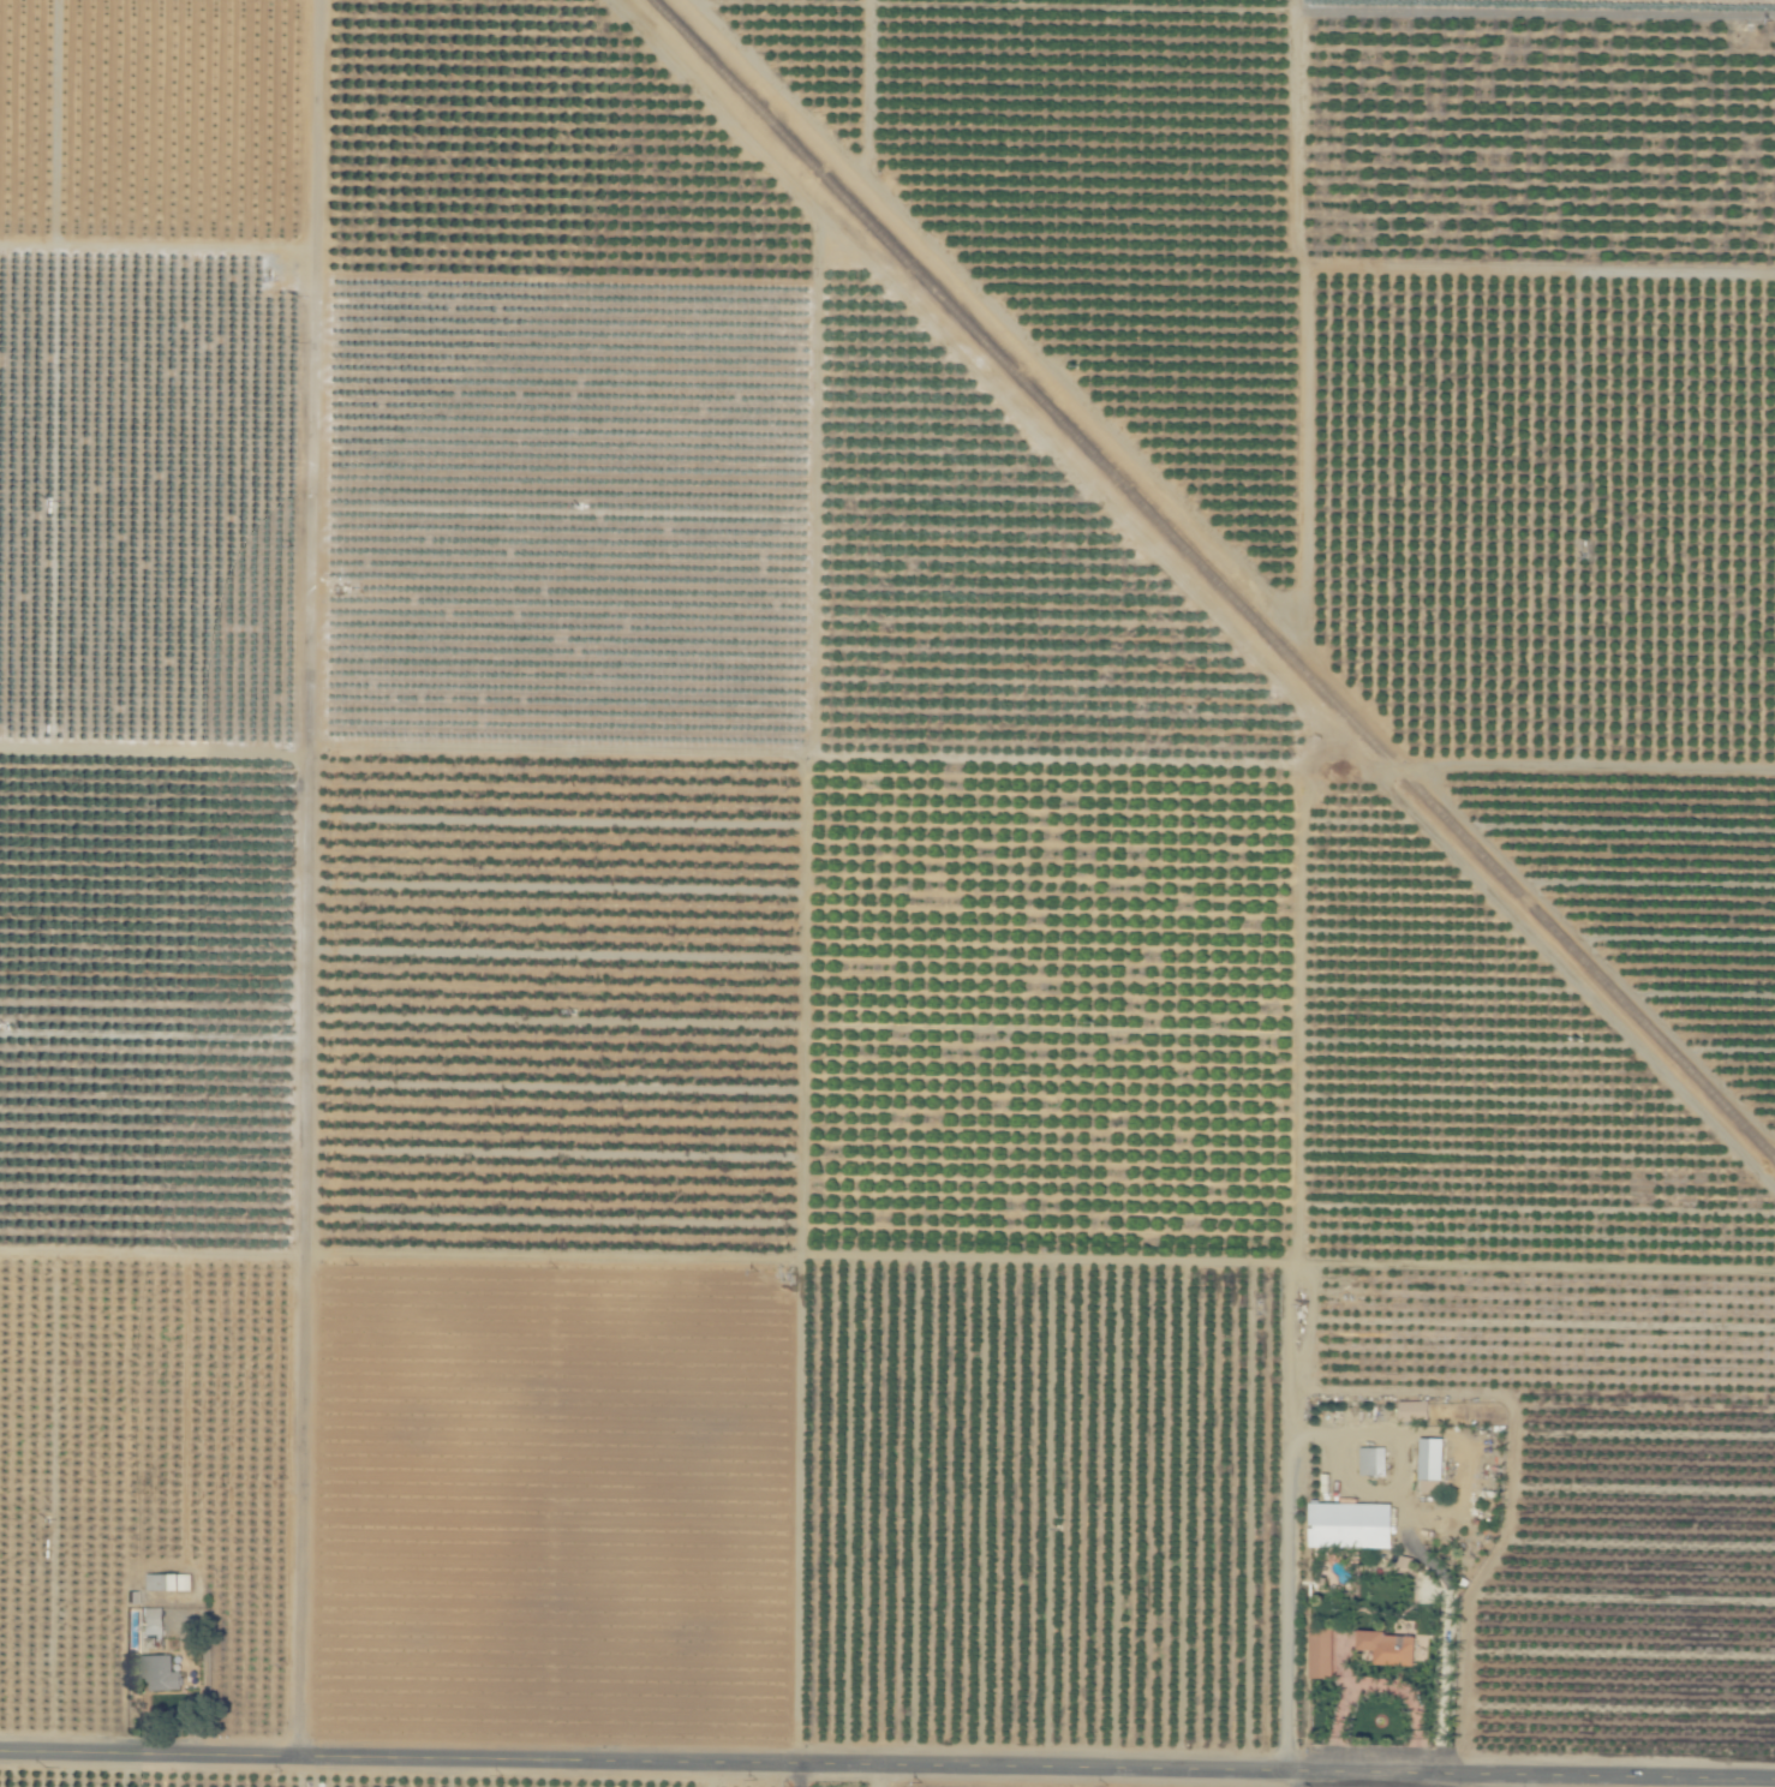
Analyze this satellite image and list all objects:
railway: (1212, 581)
road: (307, 879)
crop: (887, 893)
crop: (1538, 1278)
building: (1411, 1410)
building: (1429, 1458)
building: (1371, 1460)
building: (1347, 1524)
building: (167, 1582)
building: (1386, 1646)
road: (1447, 1650)
building: (159, 1673)
road: (887, 1764)
road: (1299, 1777)
road: (1540, 1782)

